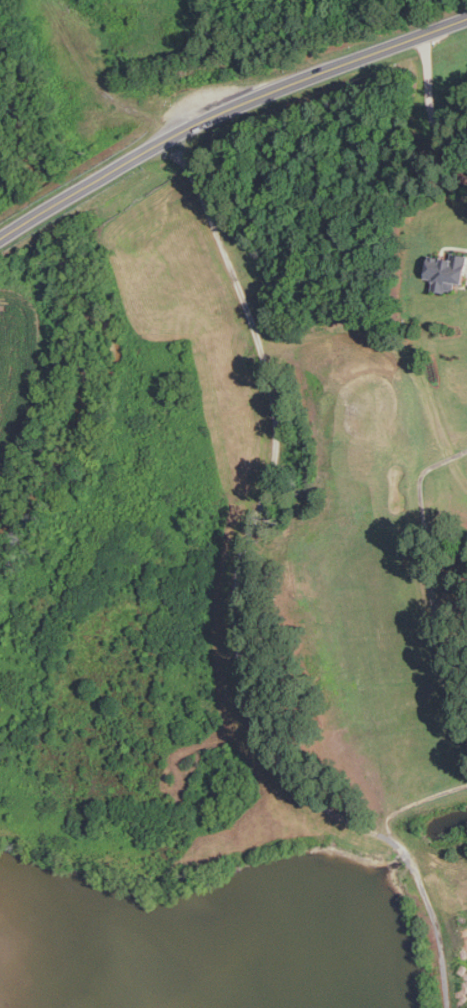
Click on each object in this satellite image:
road: (253, 97)
road: (430, 106)
road: (26, 222)
building: (445, 270)
road: (234, 601)

